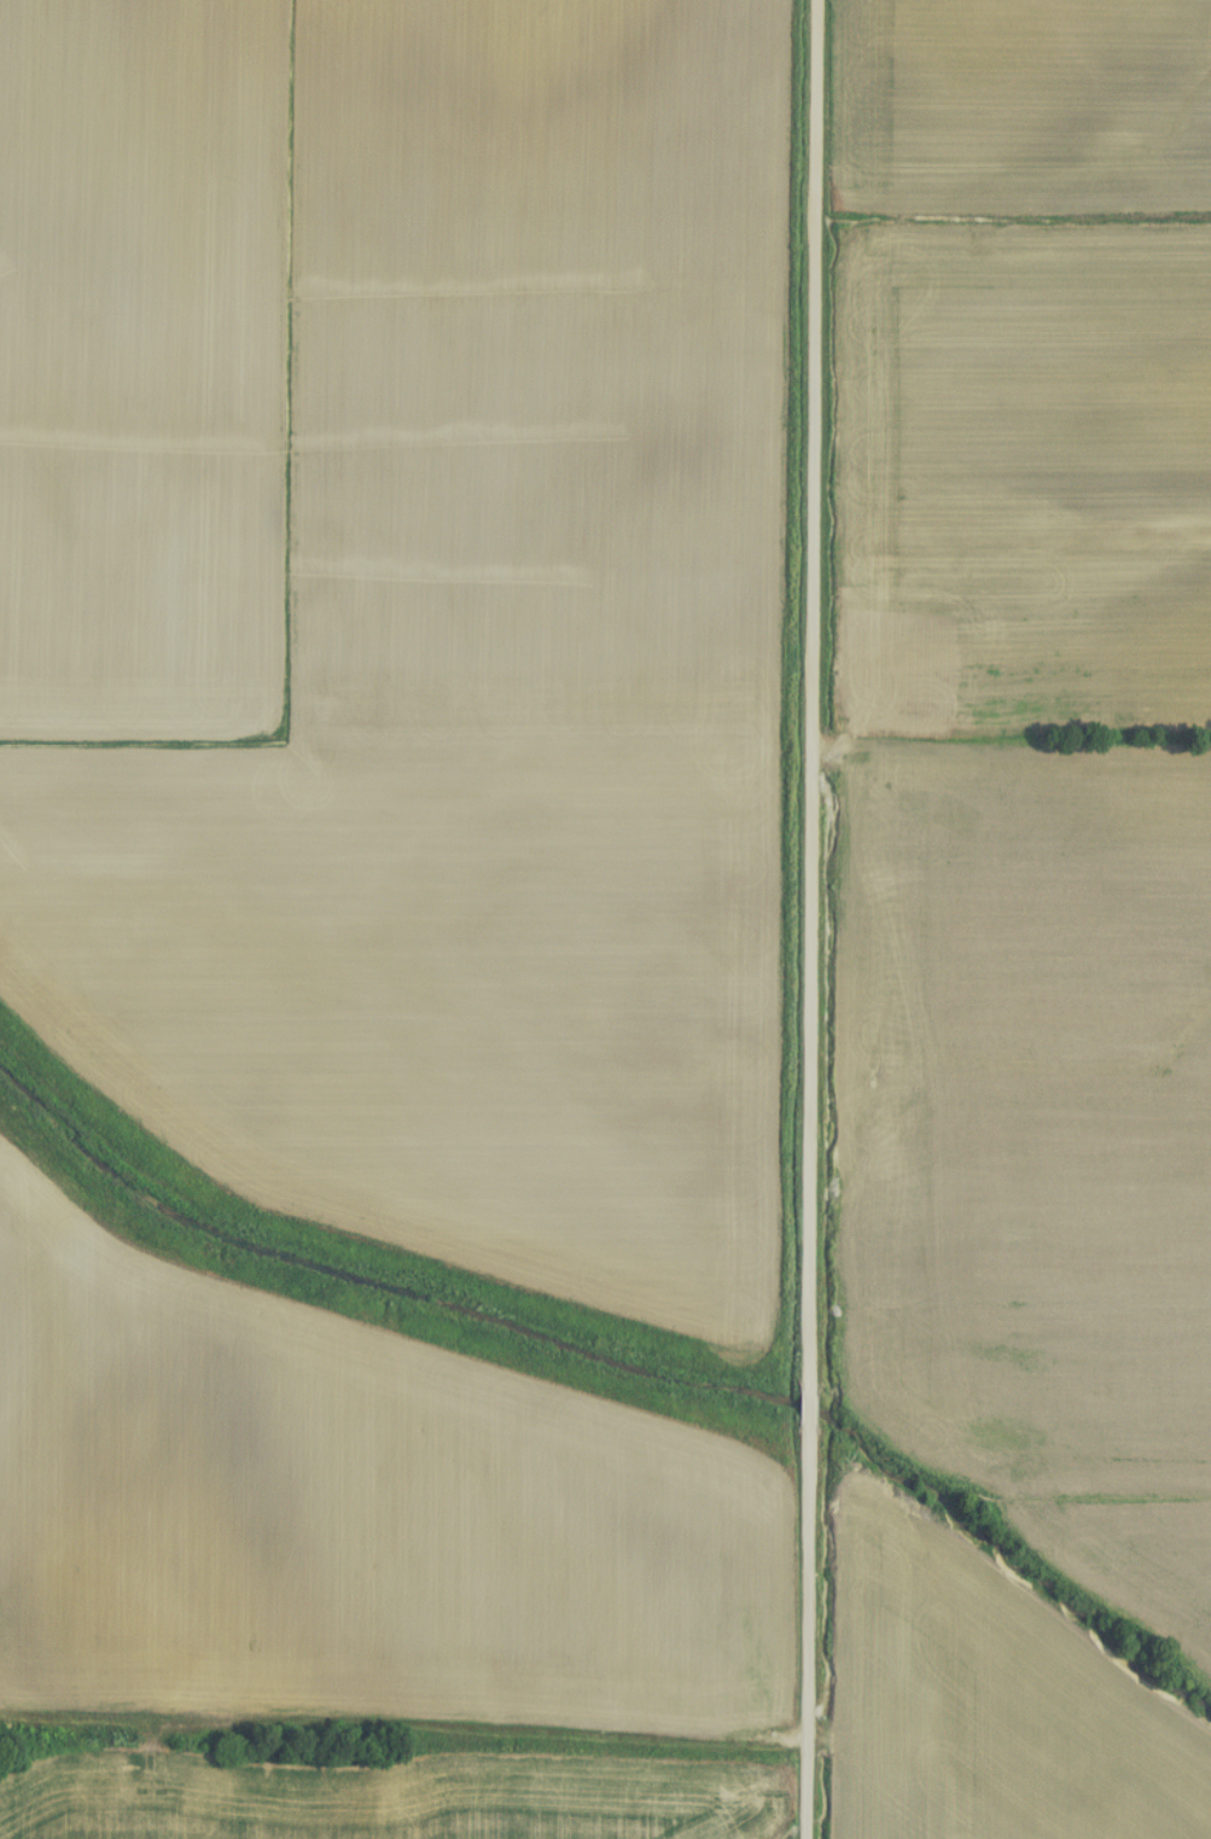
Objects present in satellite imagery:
road: (816, 919)

